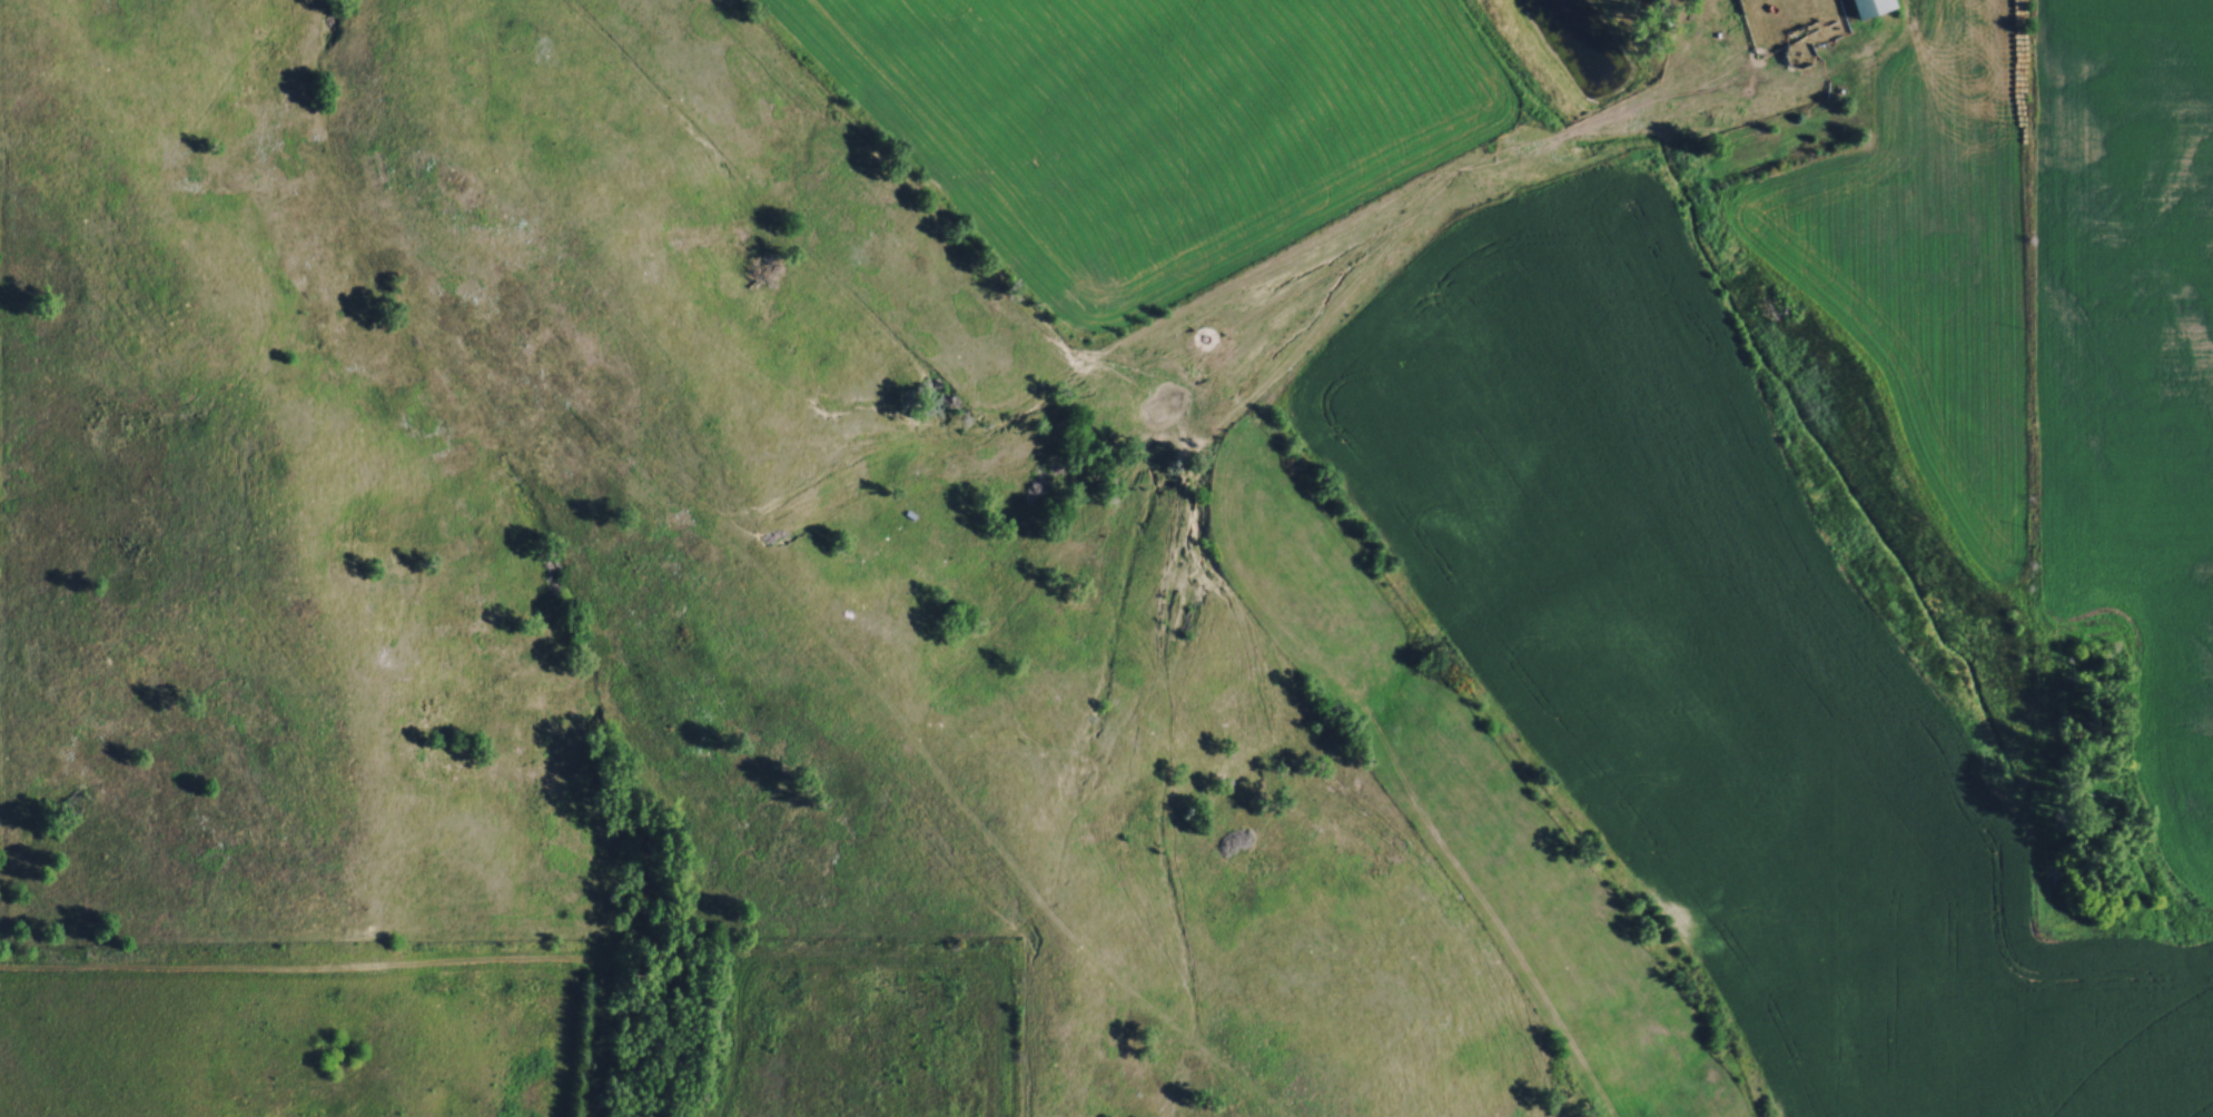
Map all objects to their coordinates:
building: (1866, 6)

